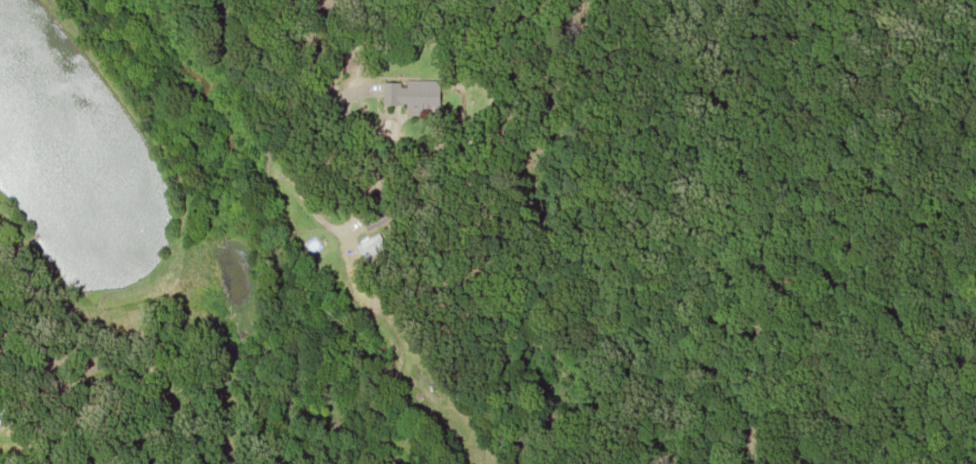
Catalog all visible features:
building: (408, 100)
building: (372, 251)

